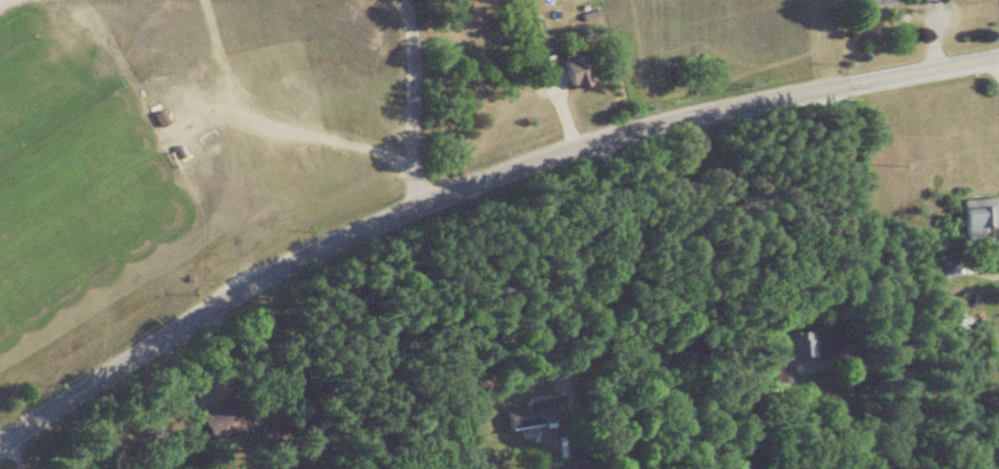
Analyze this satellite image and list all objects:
building: (922, 0)
building: (865, 3)
parking lot: (15, 9)
building: (526, 28)
road: (998, 62)
building: (552, 72)
road: (412, 102)
building: (154, 120)
park: (73, 158)
road: (473, 183)
building: (973, 218)
road: (849, 250)
building: (944, 270)
building: (794, 345)
building: (777, 370)
road: (850, 413)
building: (520, 418)

